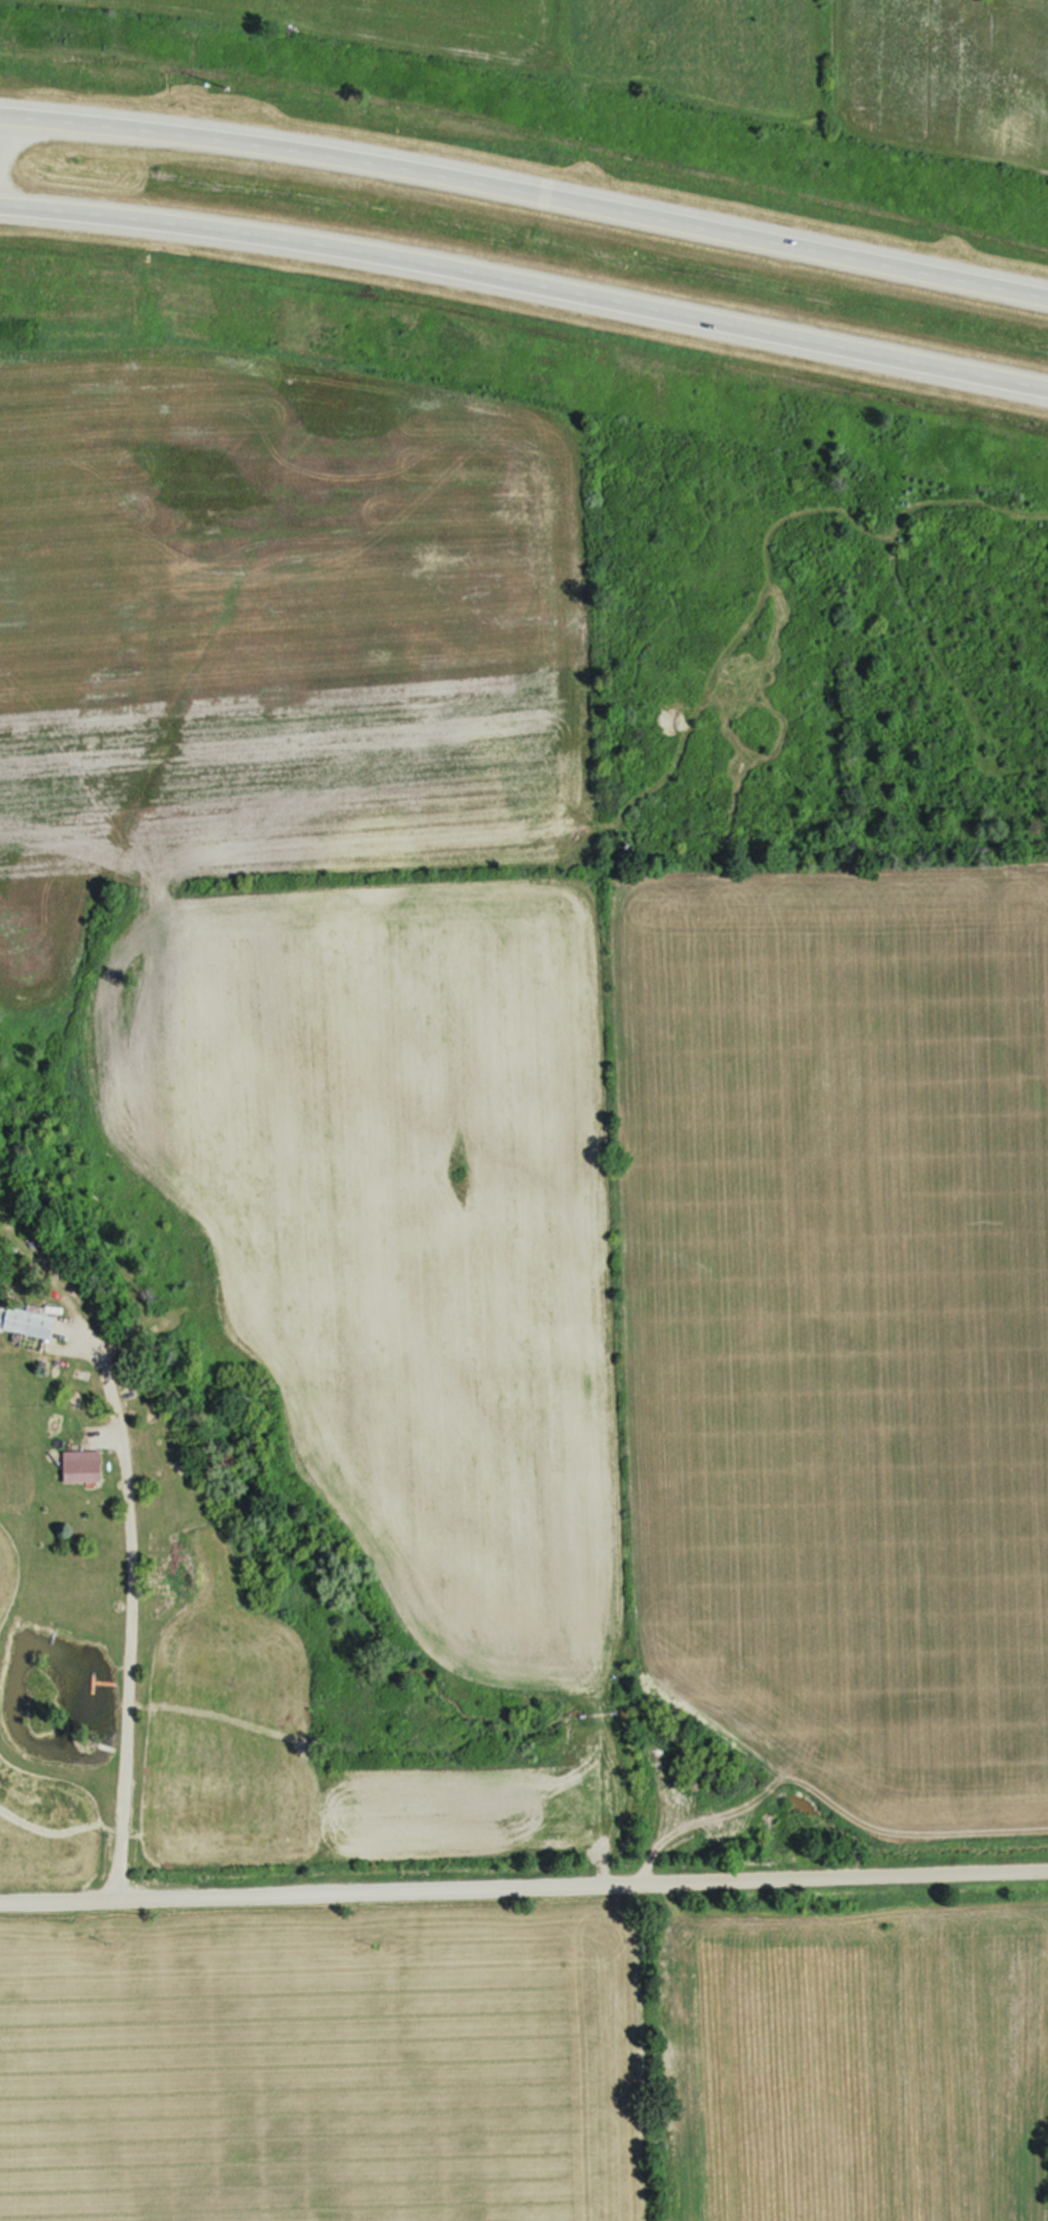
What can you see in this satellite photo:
road: (526, 182)
road: (525, 281)
building: (30, 1322)
building: (84, 1470)
road: (126, 1650)
road: (524, 1886)

